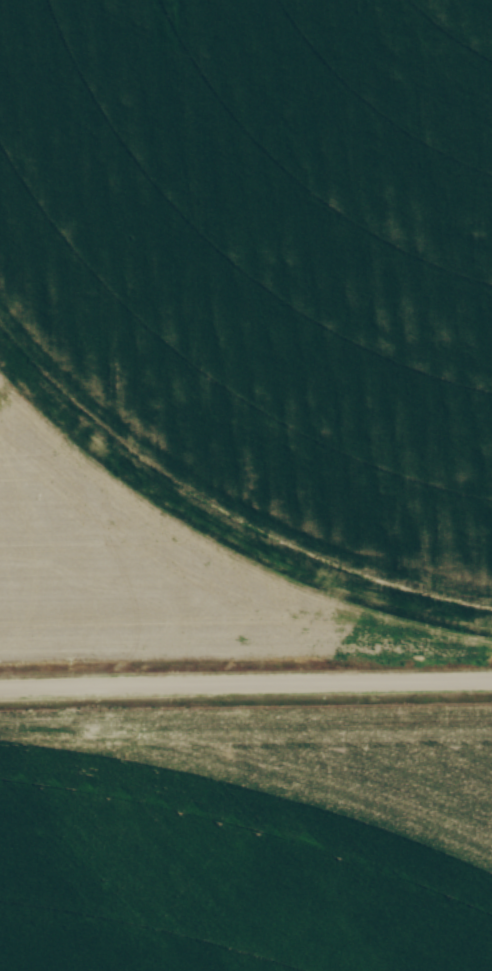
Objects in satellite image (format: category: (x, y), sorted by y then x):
road: (245, 685)

